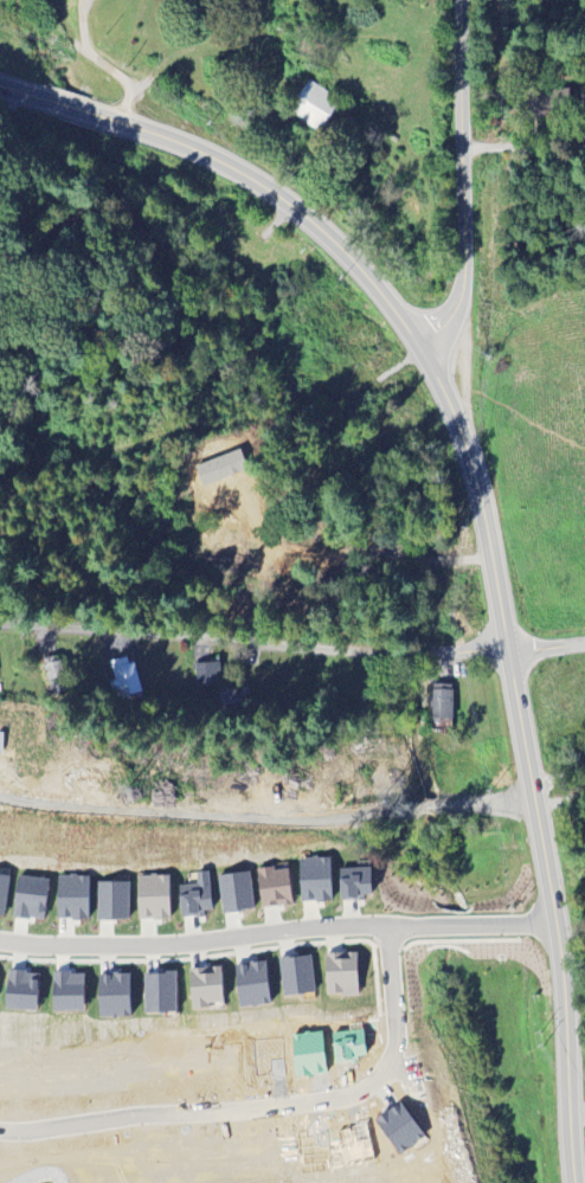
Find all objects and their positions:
road: (85, 58)
building: (313, 108)
road: (457, 188)
road: (481, 508)
road: (373, 548)
road: (251, 647)
road: (545, 652)
building: (54, 676)
building: (205, 676)
building: (126, 679)
building: (231, 701)
building: (442, 703)
road: (558, 780)
road: (266, 817)
building: (315, 881)
building: (355, 885)
building: (272, 889)
building: (234, 894)
building: (71, 899)
building: (152, 899)
building: (111, 901)
building: (193, 901)
road: (274, 934)
building: (341, 973)
building: (296, 977)
building: (252, 986)
building: (205, 989)
building: (21, 992)
building: (160, 995)
building: (115, 997)
road: (270, 1110)
road: (579, 1116)

